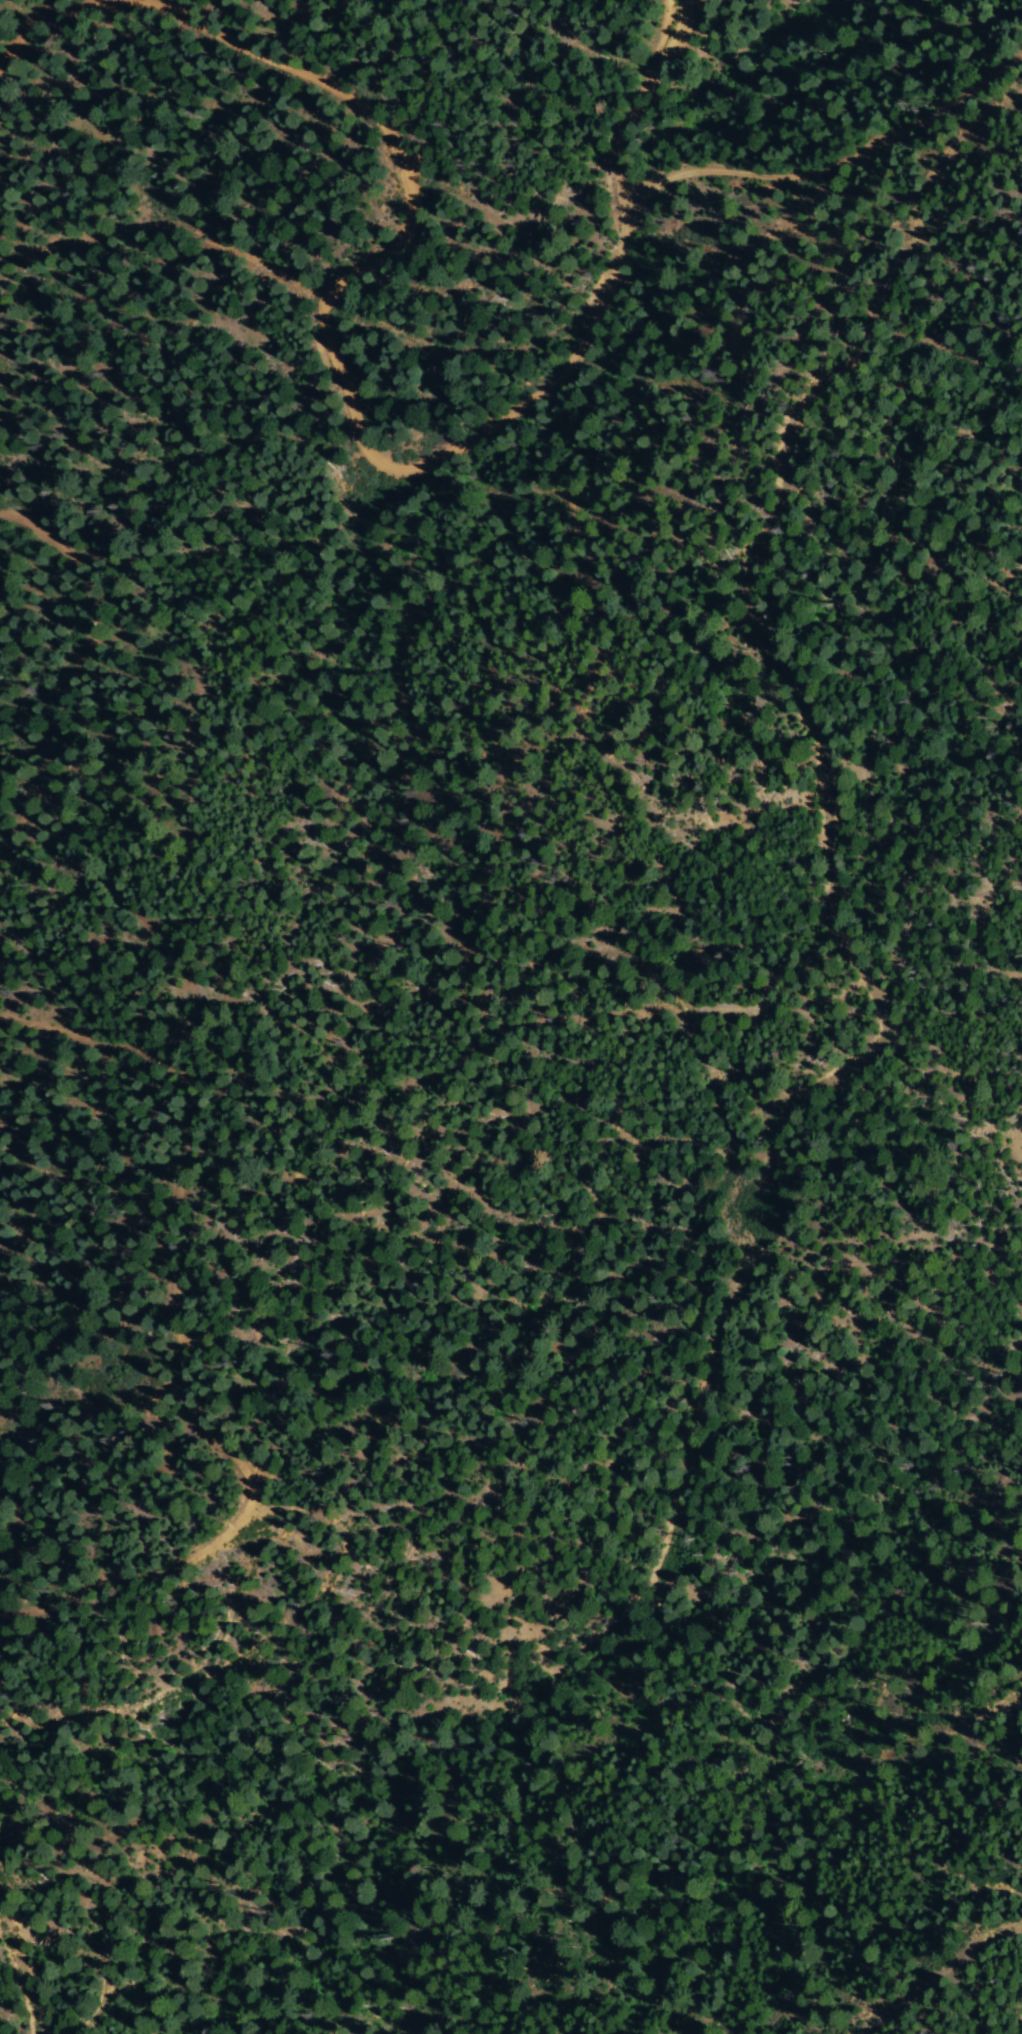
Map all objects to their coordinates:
road: (818, 200)
road: (460, 382)

